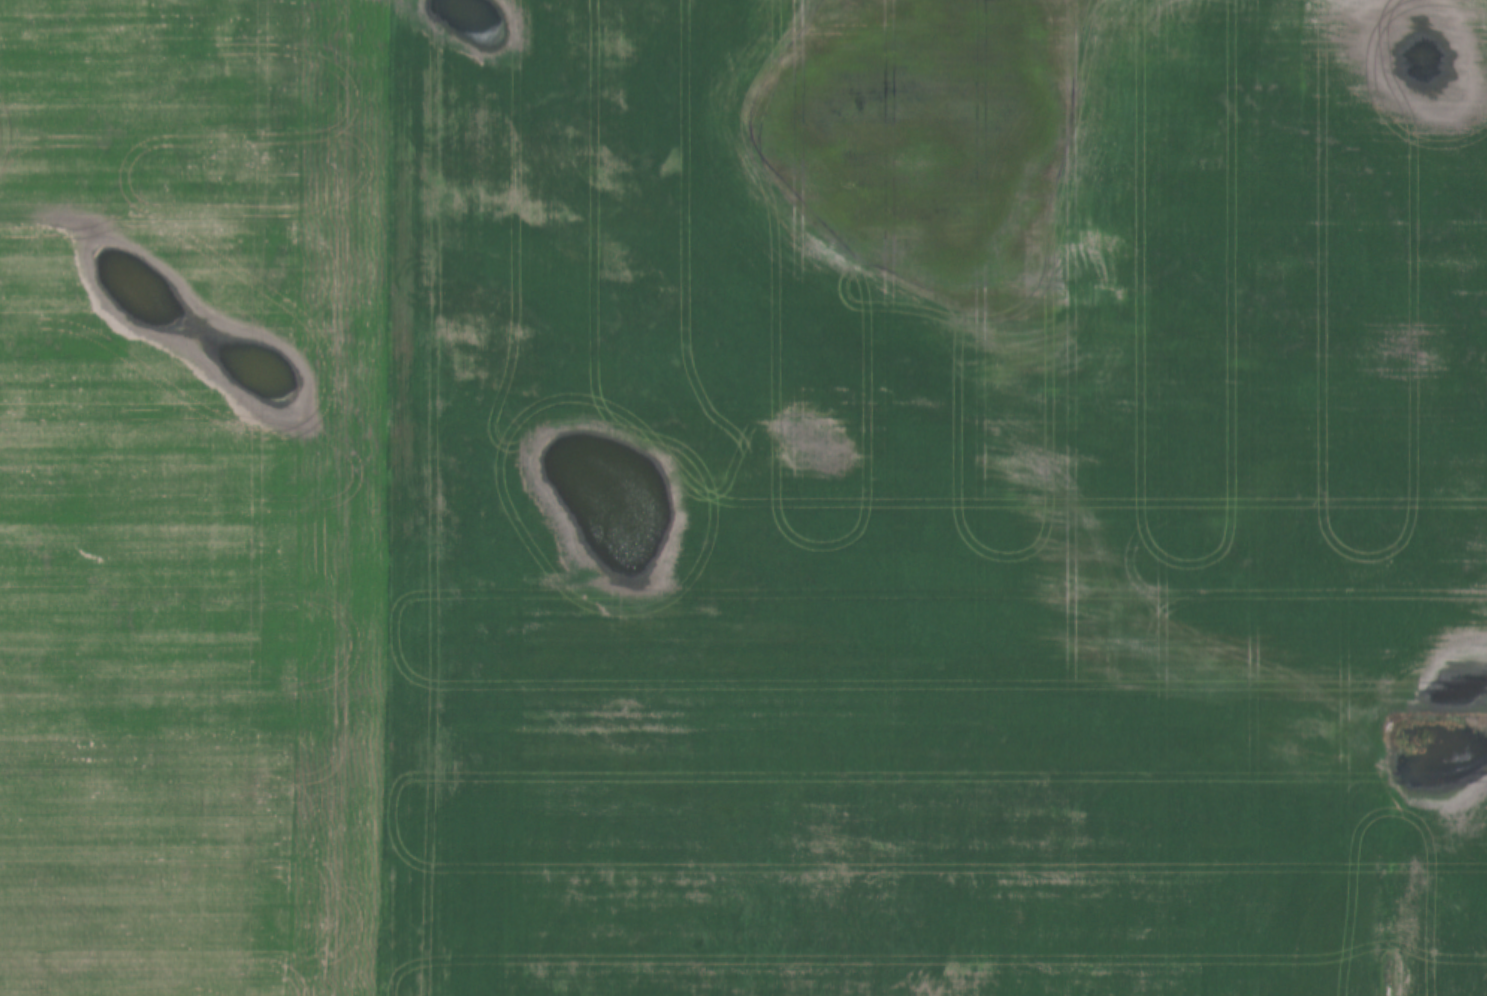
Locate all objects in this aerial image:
crop: (925, 488)

